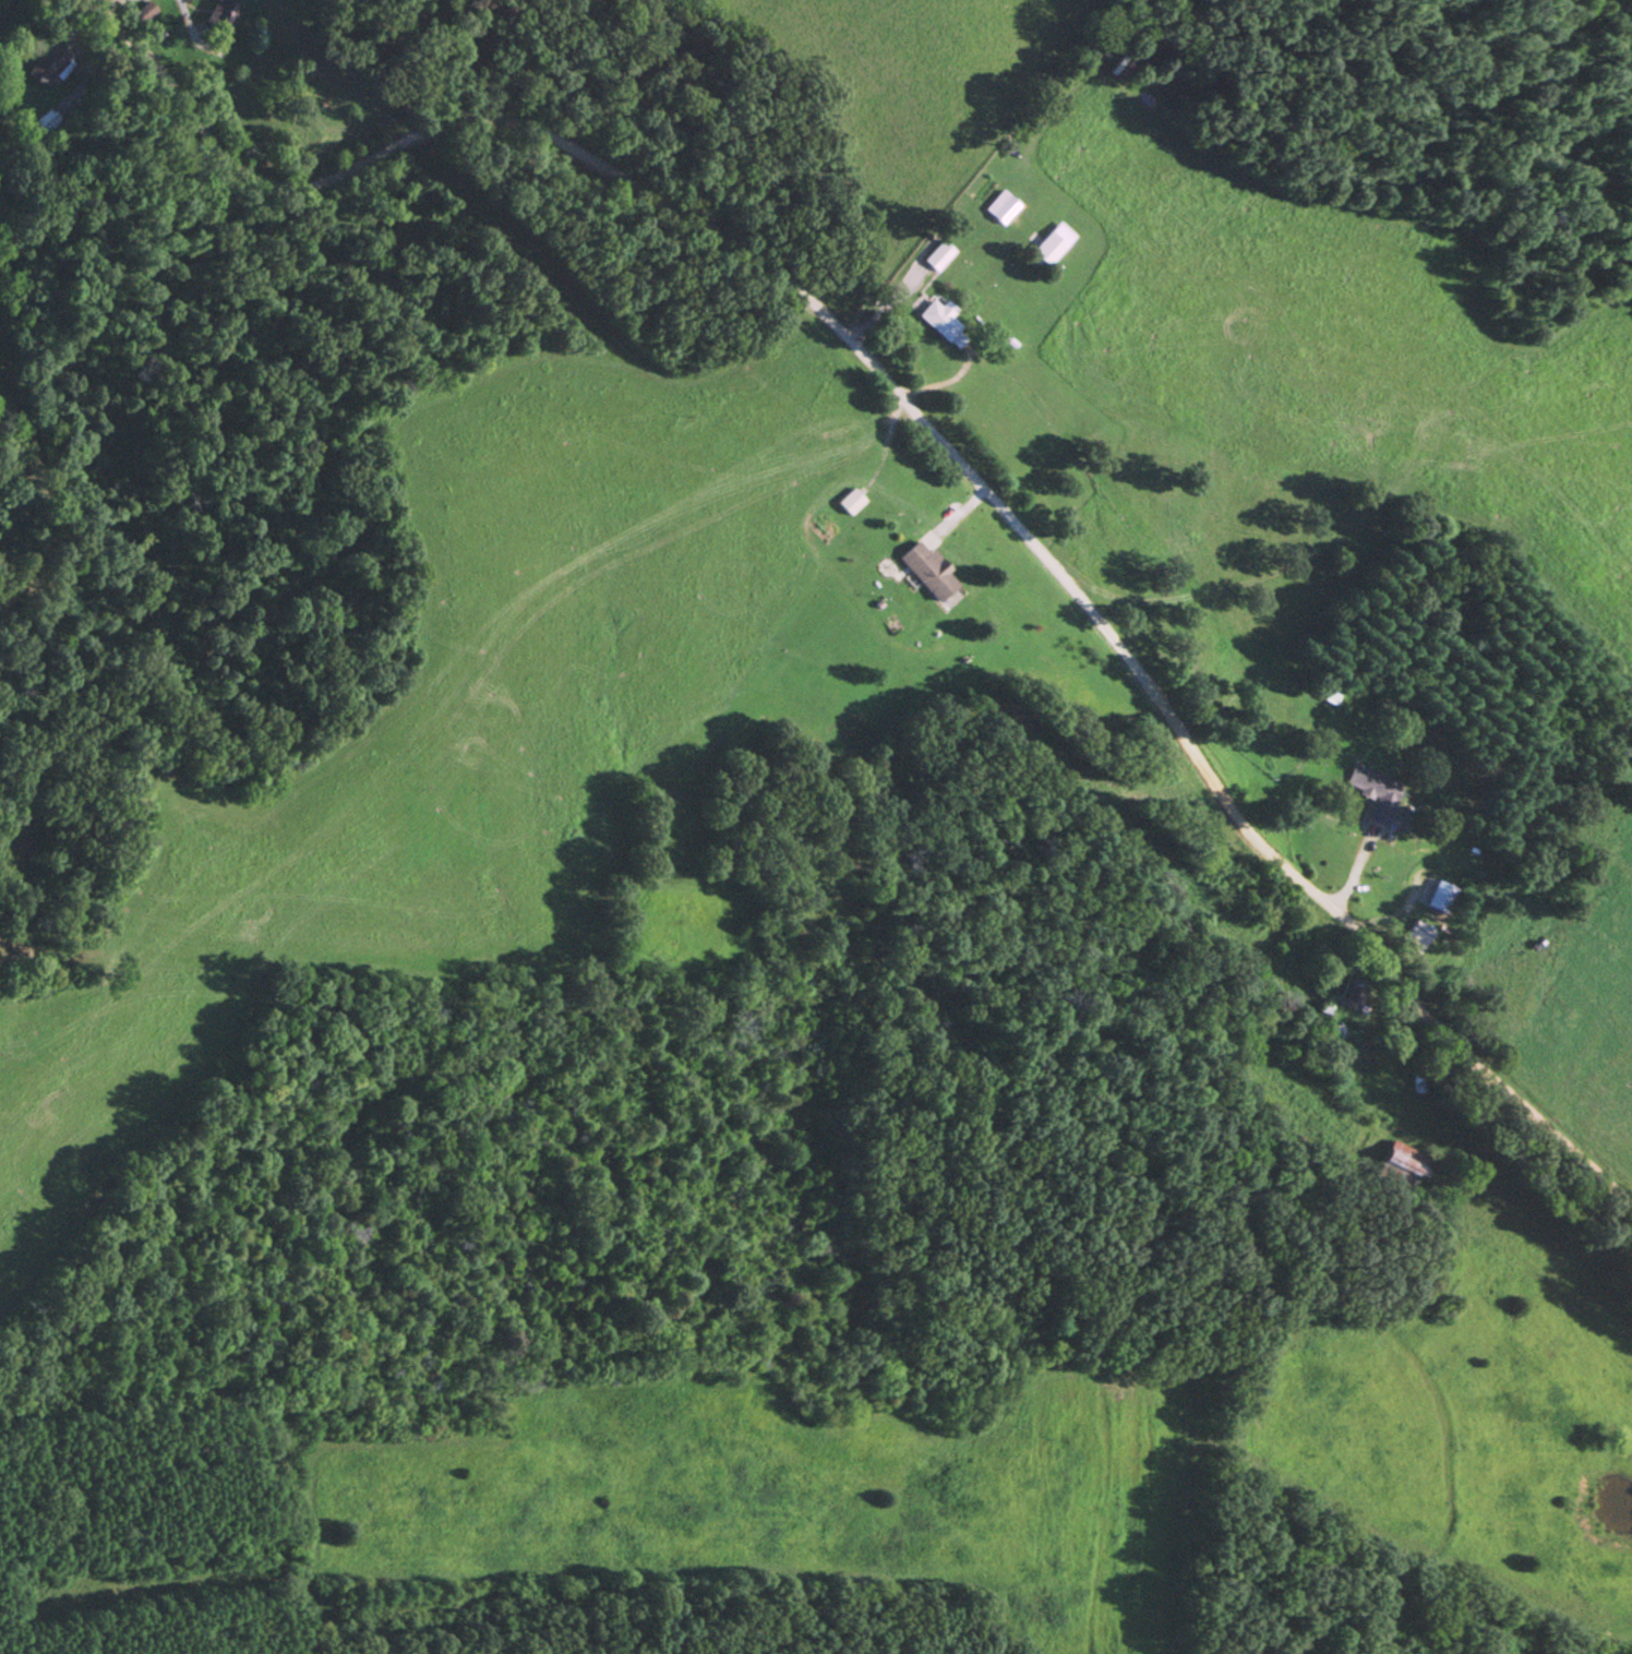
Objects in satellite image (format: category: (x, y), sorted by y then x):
building: (146, 11)
building: (221, 14)
building: (47, 64)
building: (319, 100)
building: (1005, 206)
building: (1056, 243)
building: (941, 254)
building: (945, 322)
road: (938, 435)
building: (851, 501)
building: (929, 568)
building: (1380, 791)
building: (1418, 936)
building: (1354, 993)
building: (1405, 1162)

